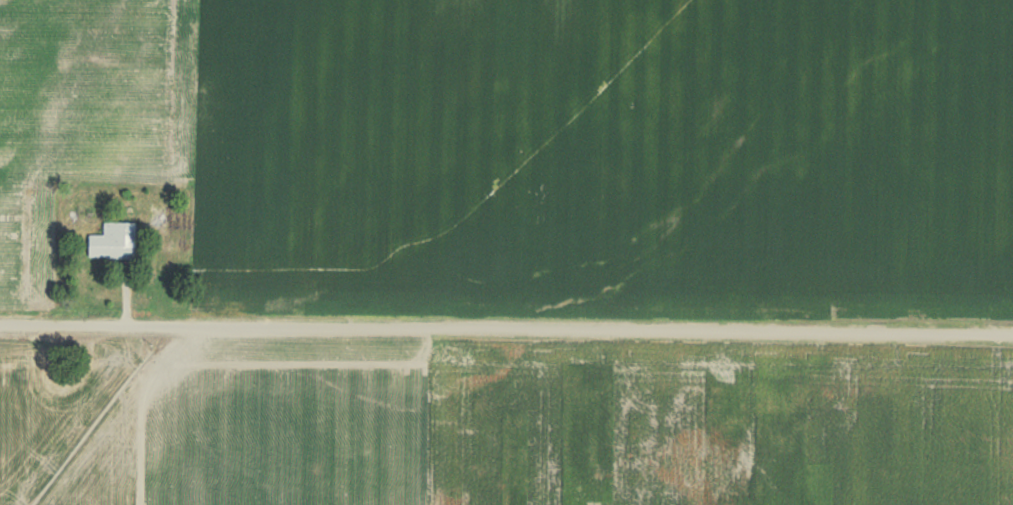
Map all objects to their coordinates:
road: (506, 329)

